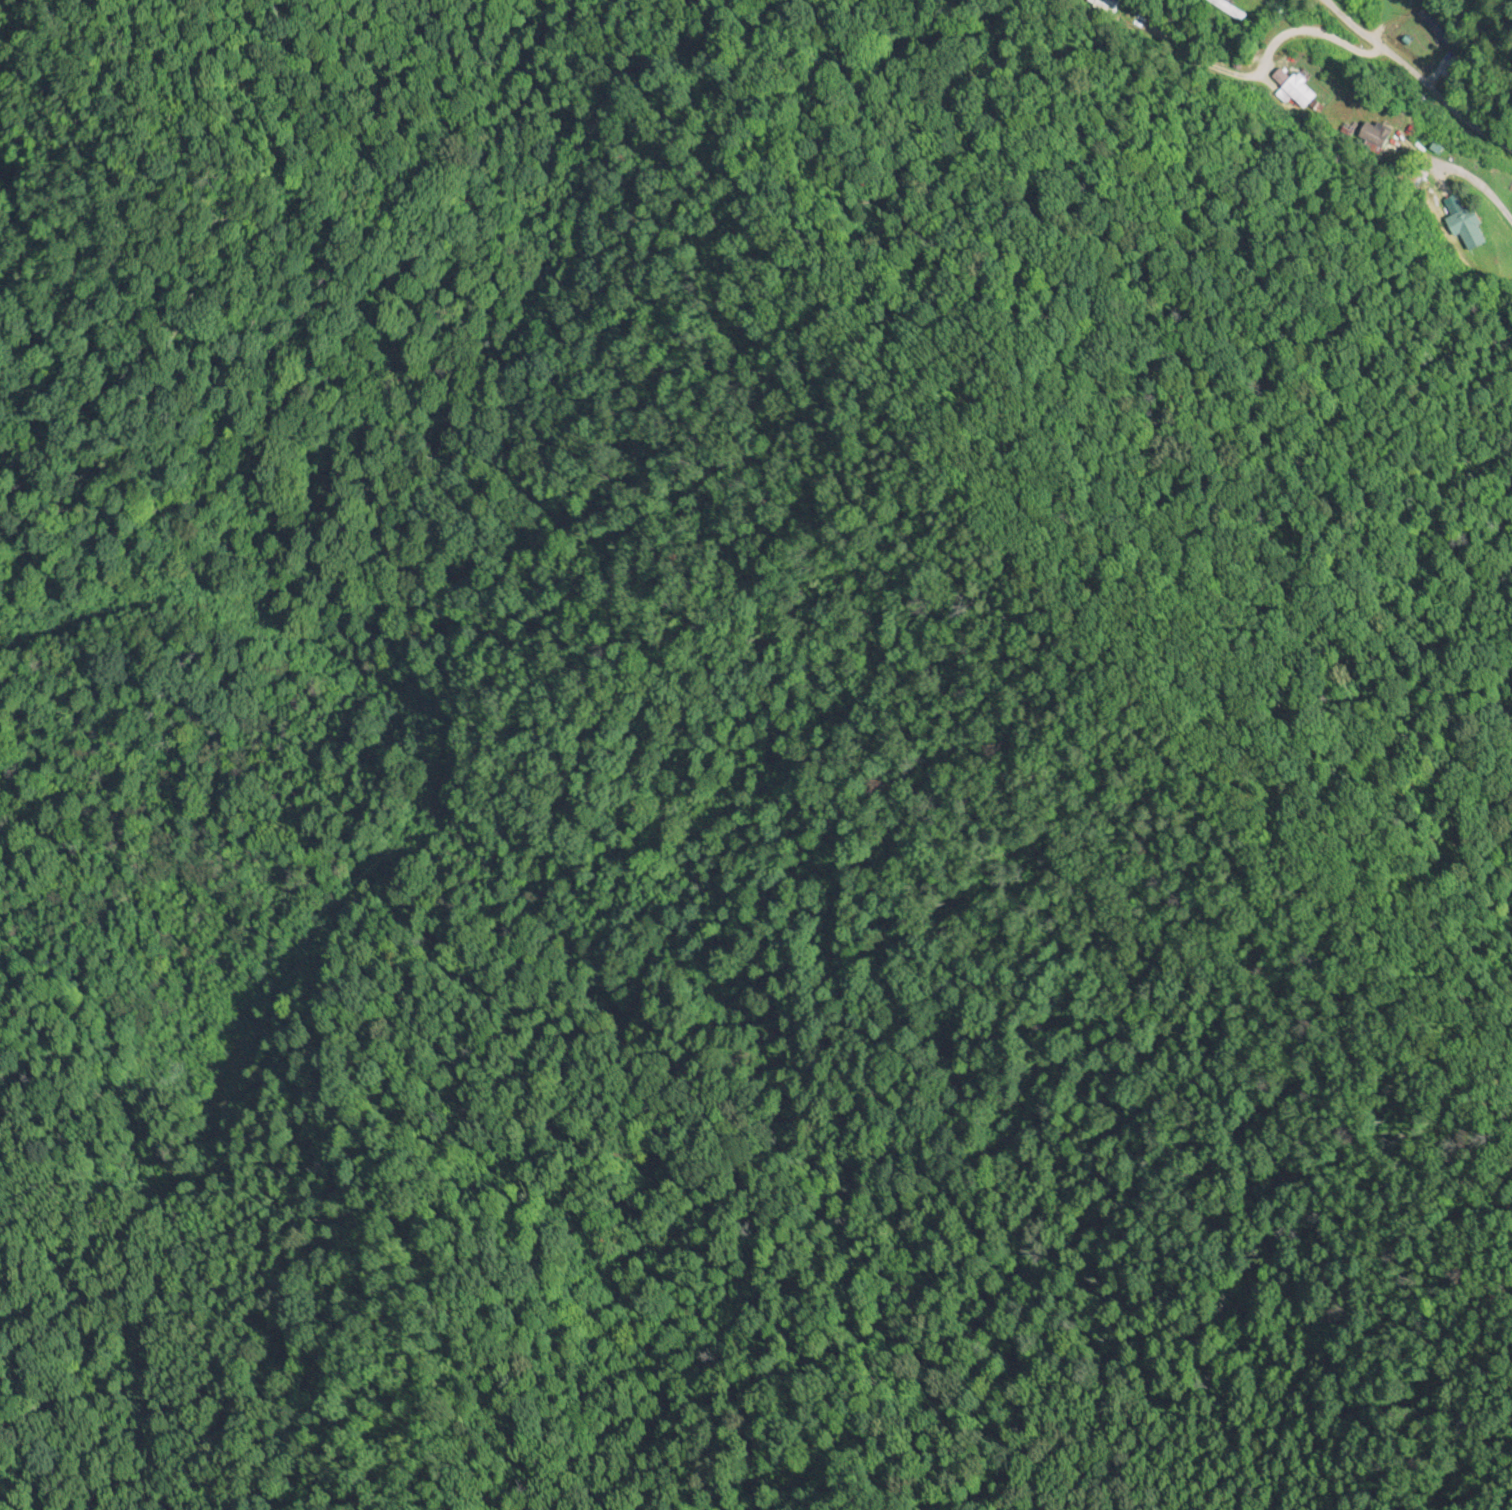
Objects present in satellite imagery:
road: (1418, 80)
road: (89, 877)
building: (150, 1177)

